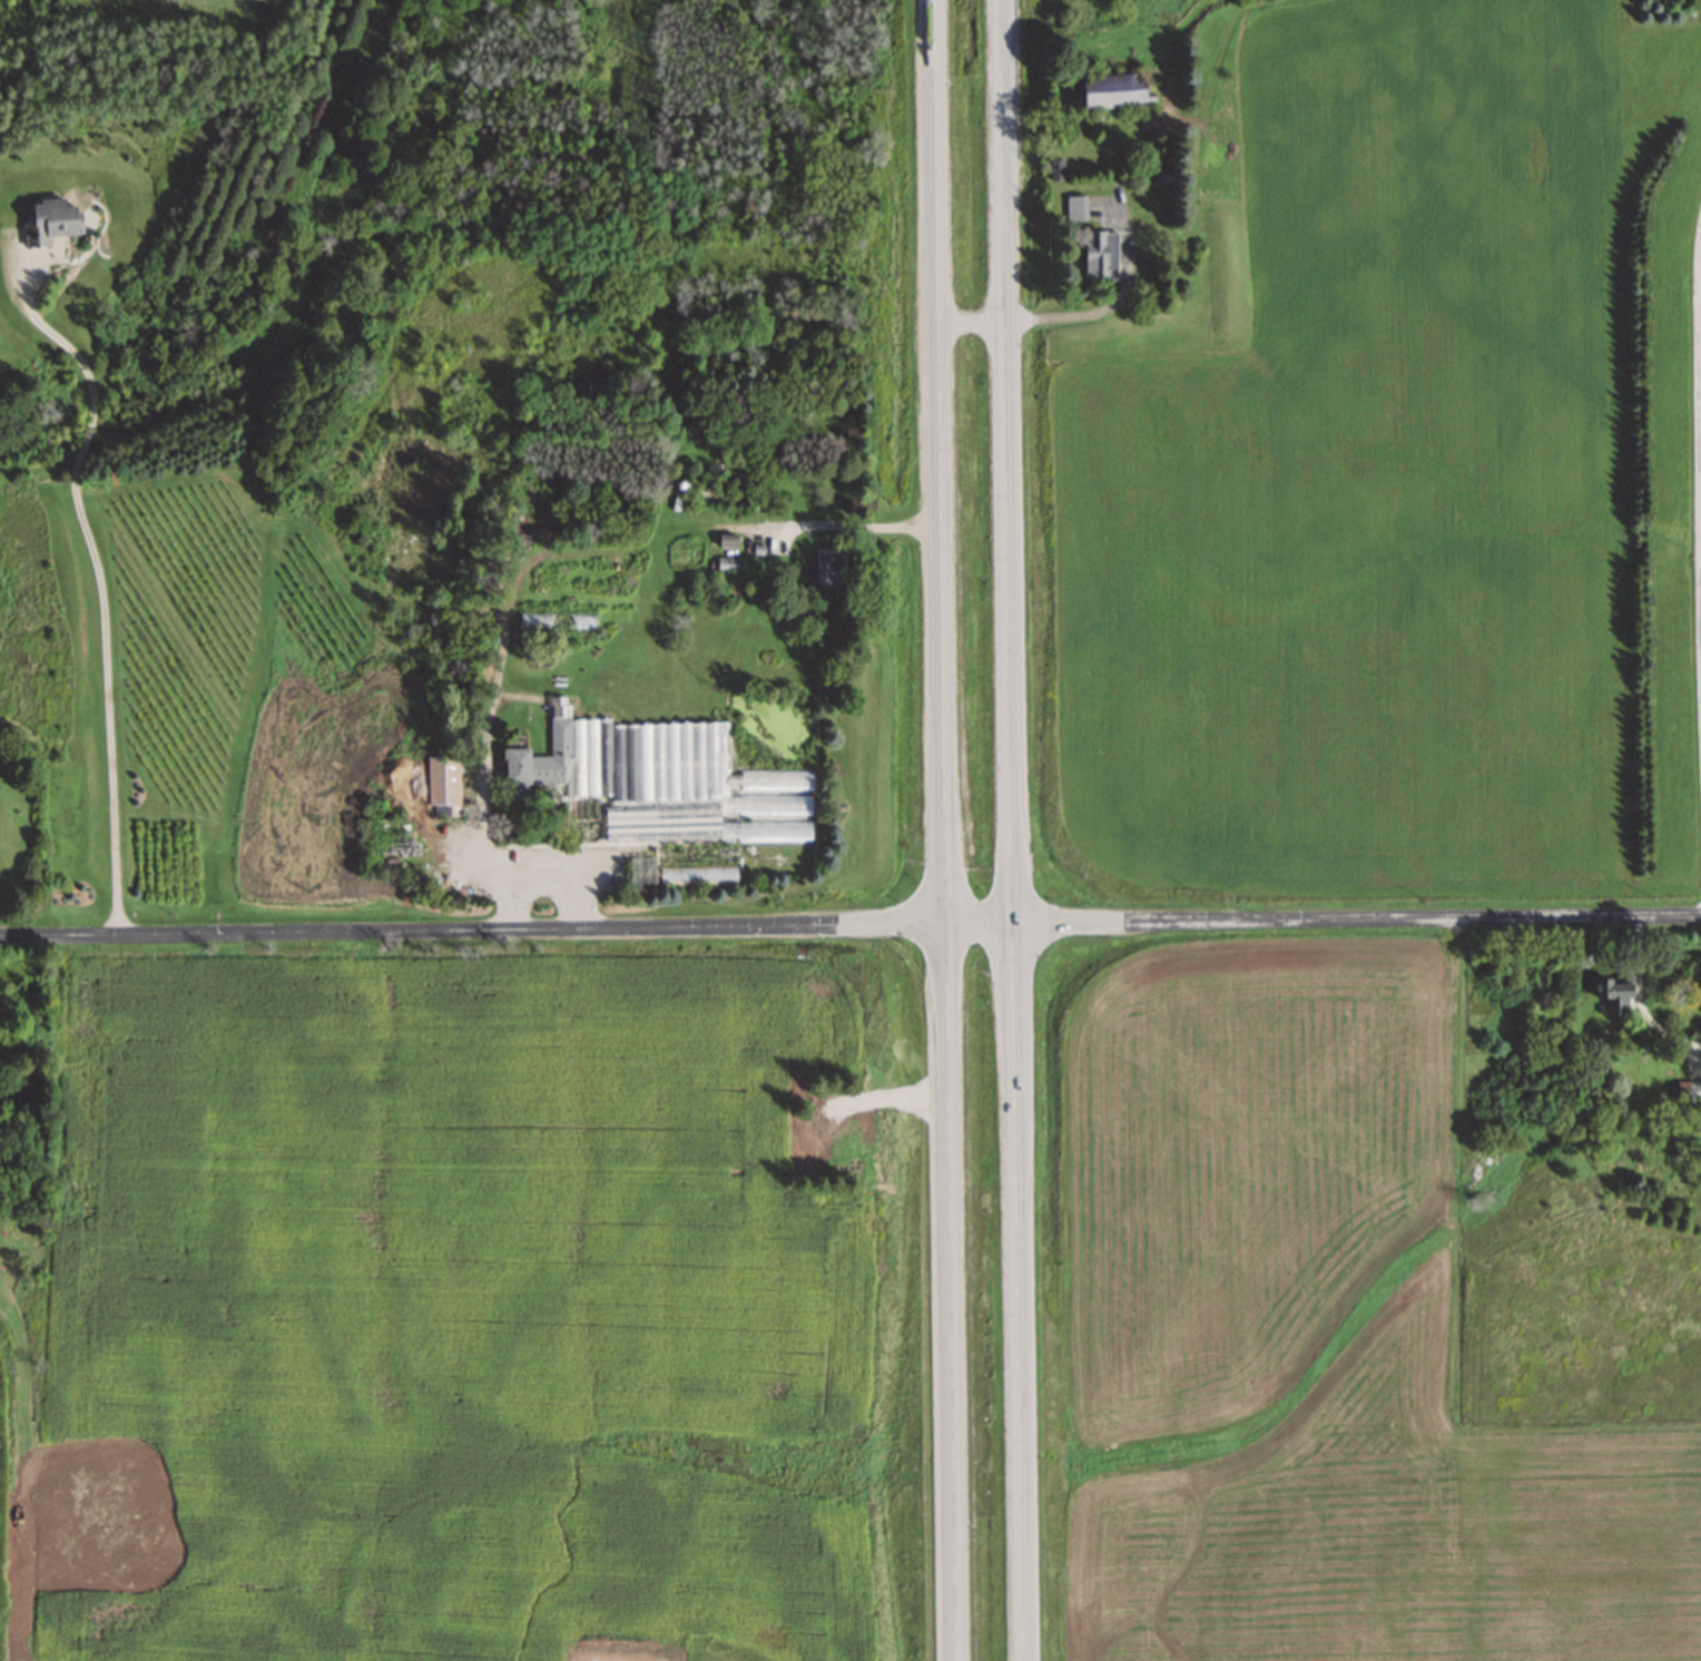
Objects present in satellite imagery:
building: (1111, 89)
building: (1075, 208)
building: (49, 219)
building: (1100, 254)
road: (1699, 443)
road: (855, 522)
building: (828, 573)
road: (100, 581)
building: (441, 780)
building: (665, 782)
road: (946, 829)
road: (1011, 829)
road: (544, 874)
building: (686, 874)
building: (641, 875)
road: (849, 922)
building: (1613, 995)
building: (1689, 1092)

